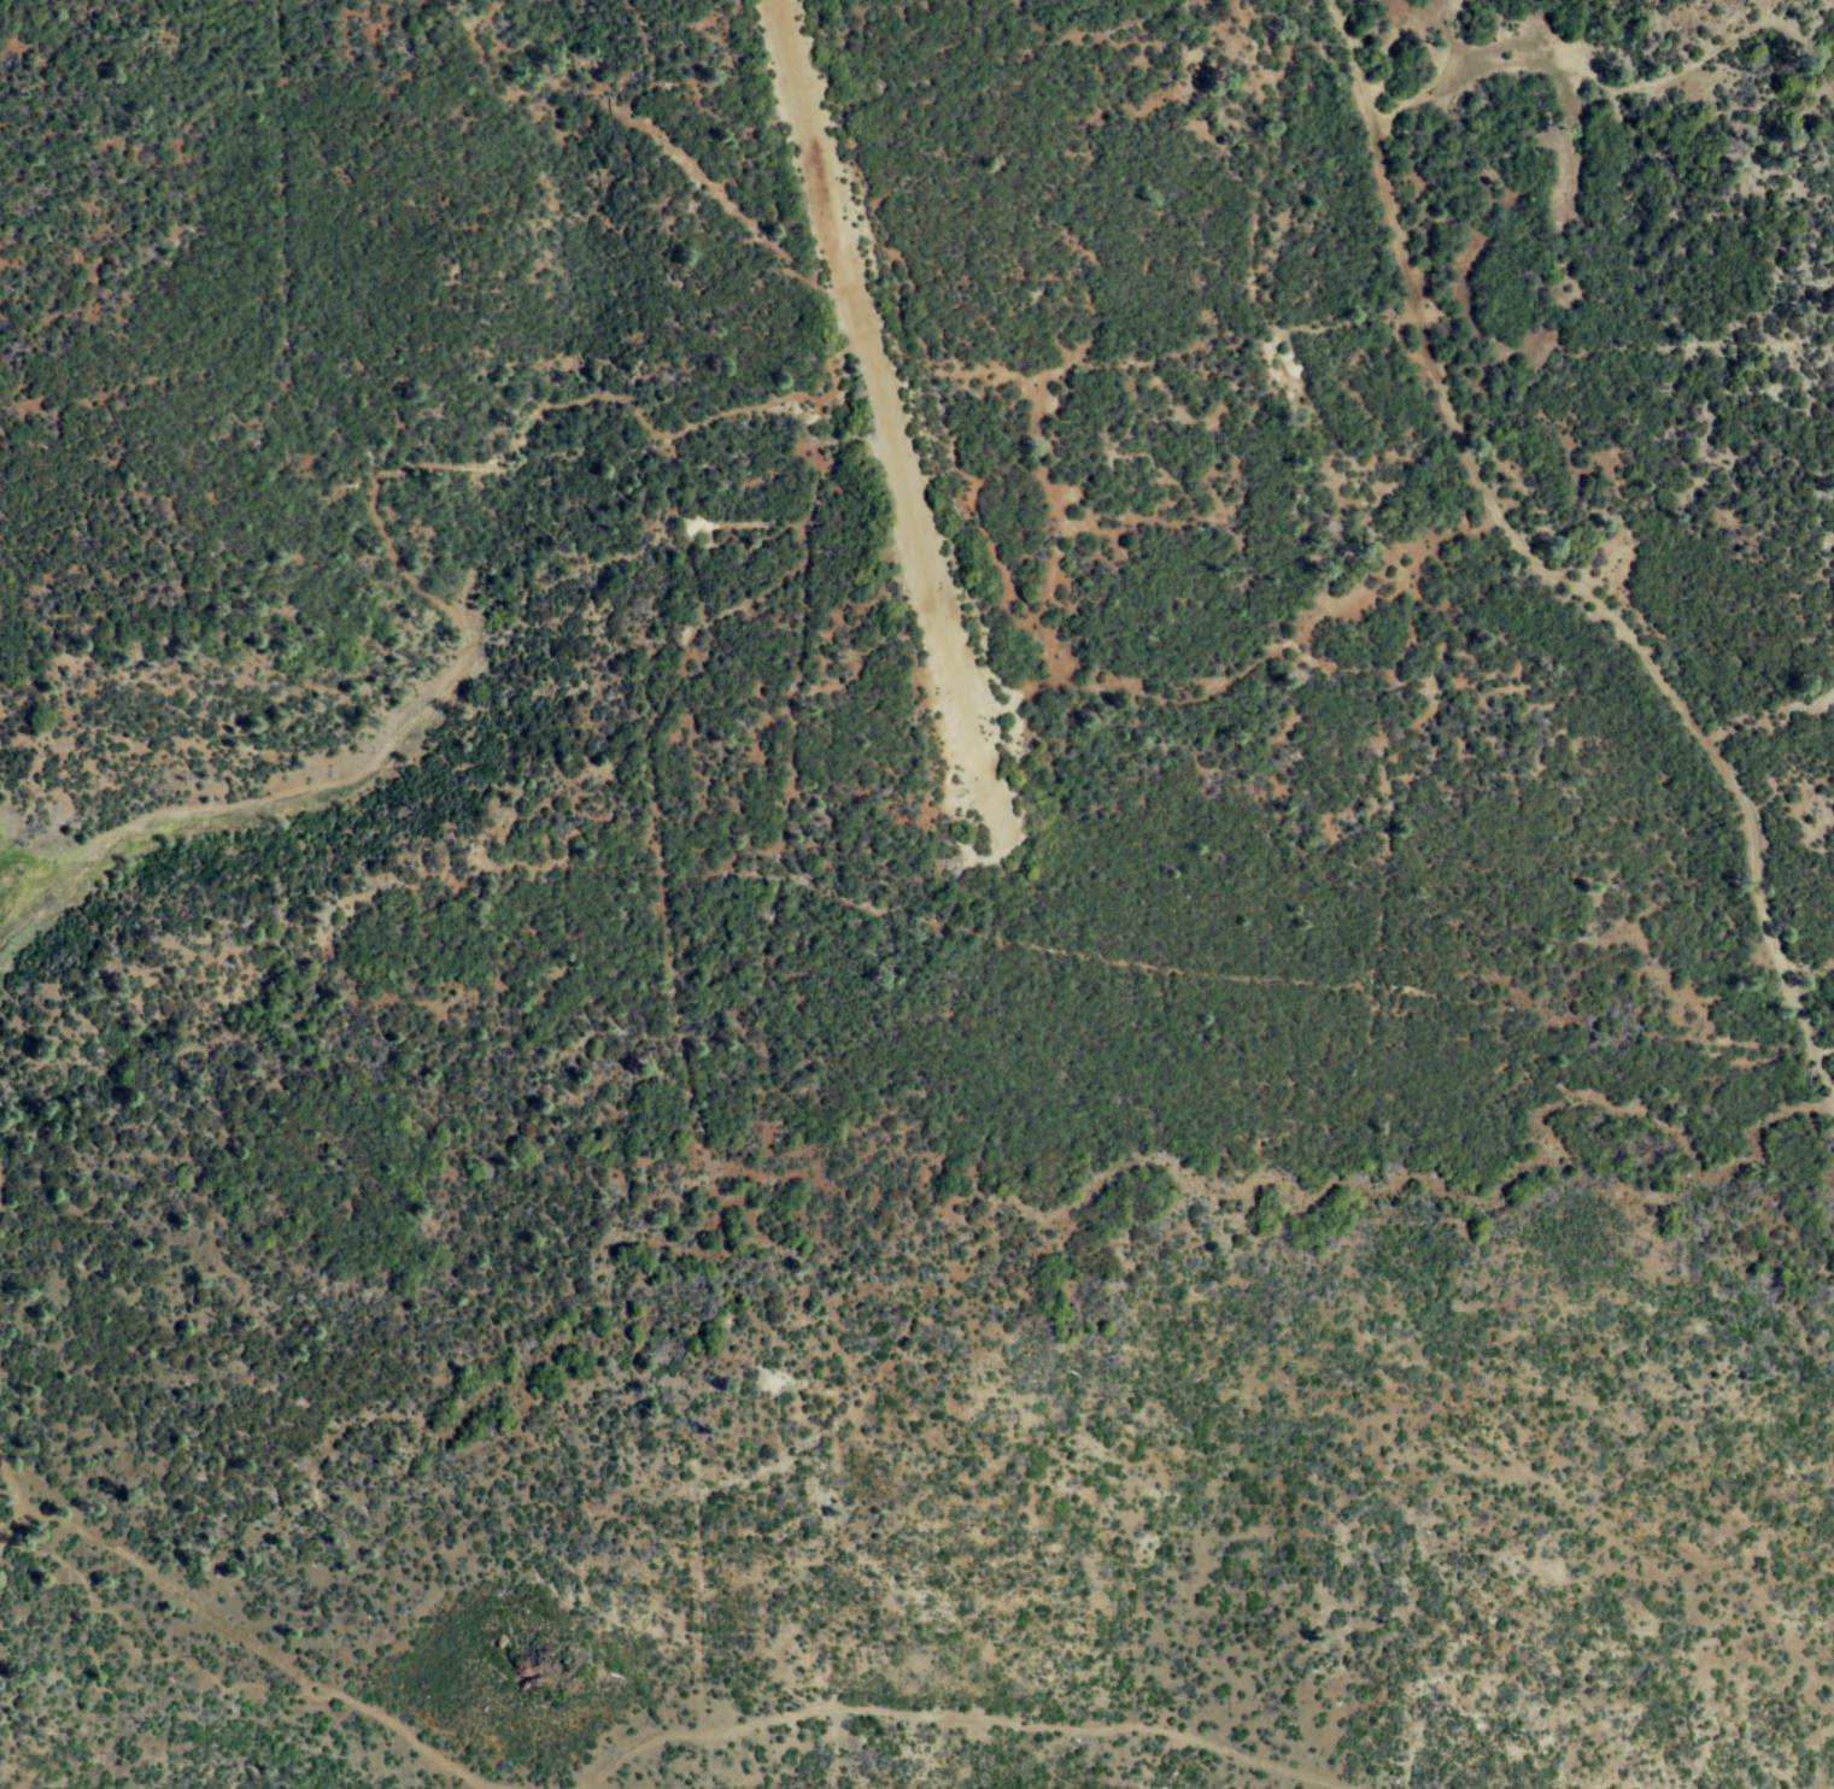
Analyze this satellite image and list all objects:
airport runway: (860, 388)
road: (1543, 567)
road: (8, 1526)

